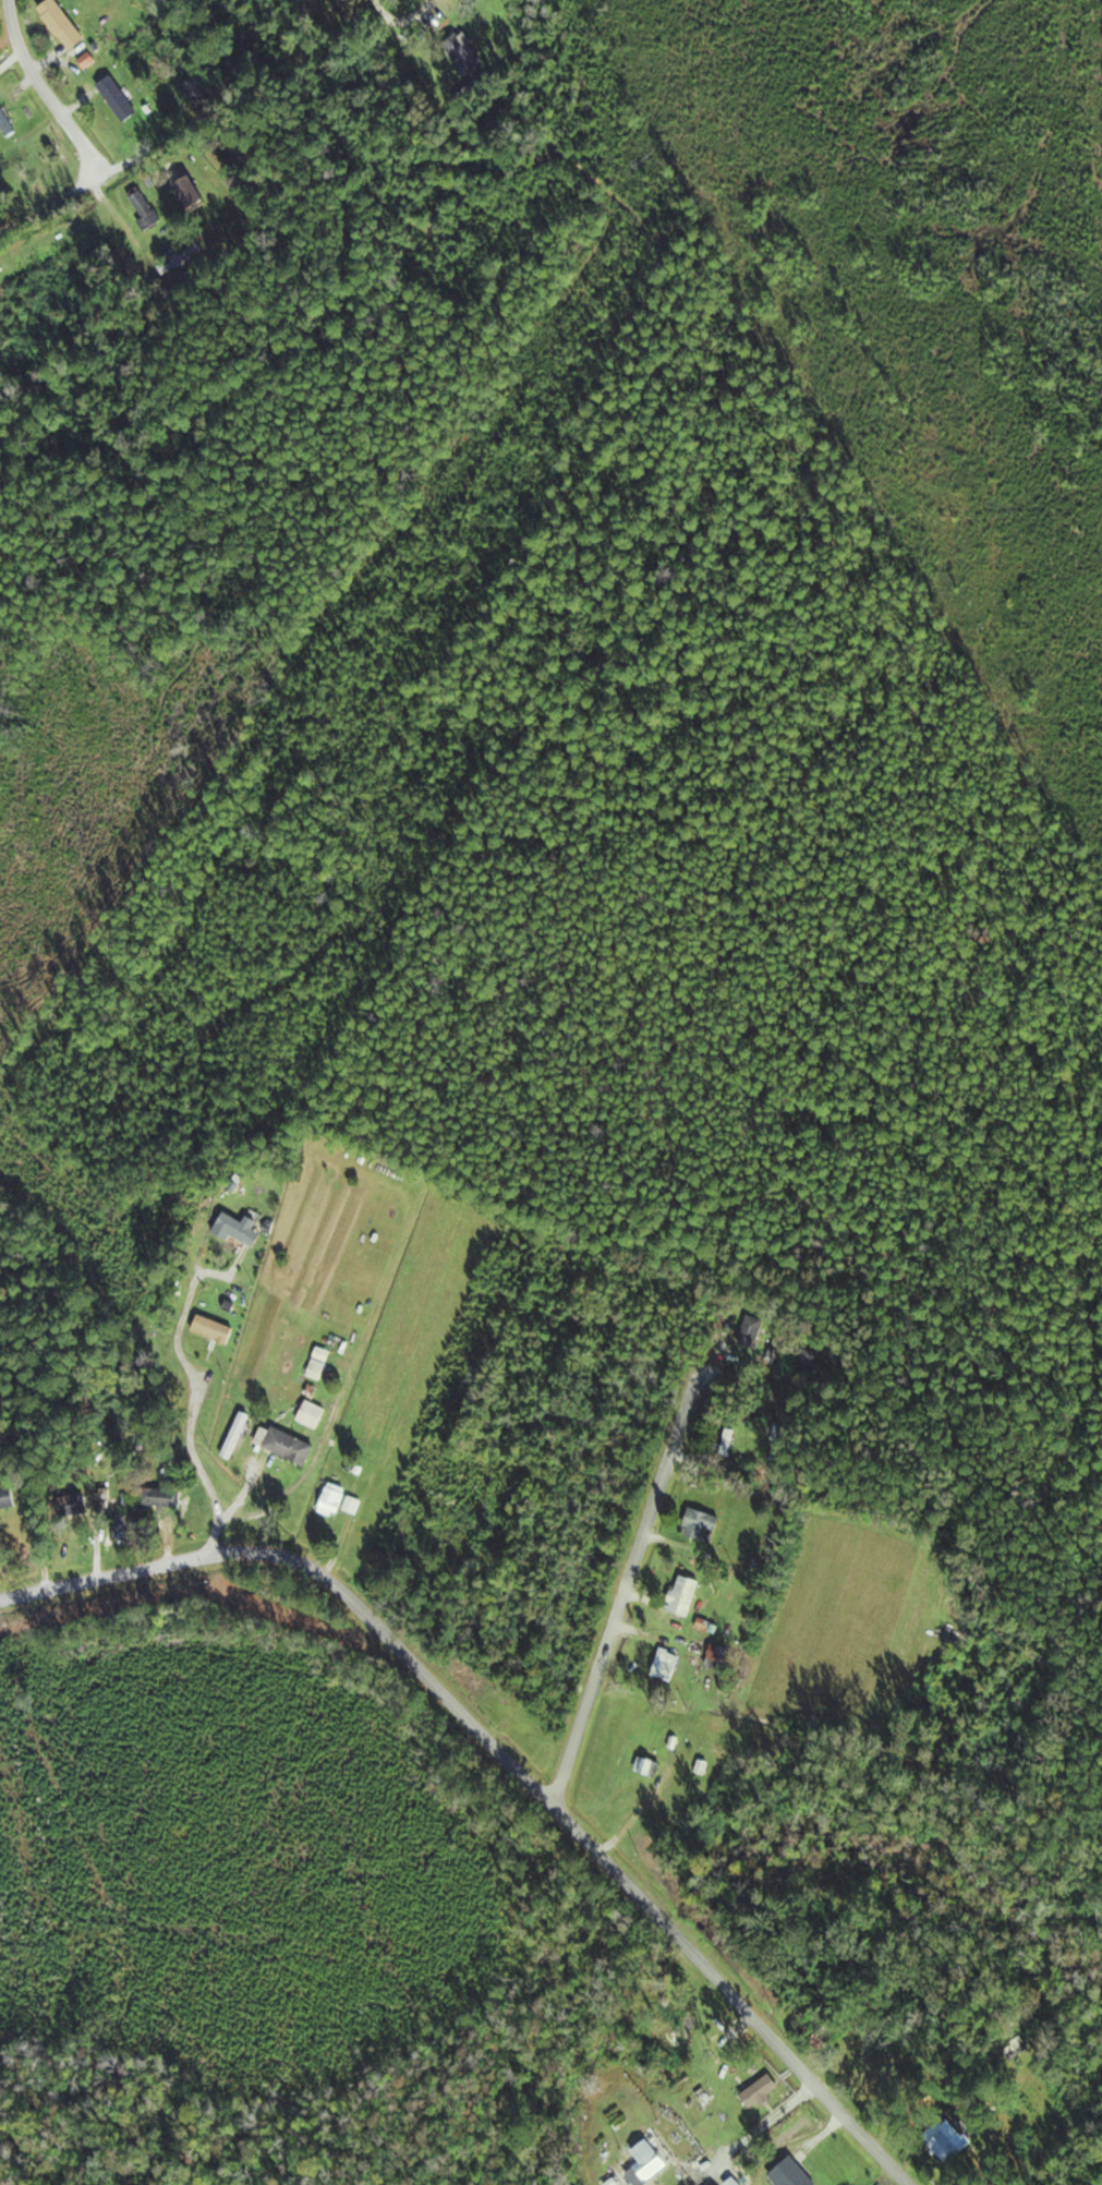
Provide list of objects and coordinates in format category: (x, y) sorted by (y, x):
building: (66, 24)
building: (469, 53)
road: (47, 89)
building: (204, 89)
building: (121, 98)
building: (8, 123)
building: (39, 172)
building: (195, 193)
building: (148, 209)
building: (243, 1229)
building: (216, 1329)
building: (754, 1331)
building: (810, 1362)
building: (315, 1415)
building: (239, 1435)
building: (288, 1445)
building: (728, 1448)
building: (9, 1497)
building: (164, 1498)
building: (342, 1502)
building: (84, 1504)
building: (705, 1525)
road: (630, 1580)
building: (688, 1595)
building: (719, 1654)
building: (669, 1664)
road: (507, 1754)
building: (651, 1765)
building: (827, 2037)
building: (765, 2092)
building: (952, 2144)
building: (650, 2163)
building: (795, 2173)

